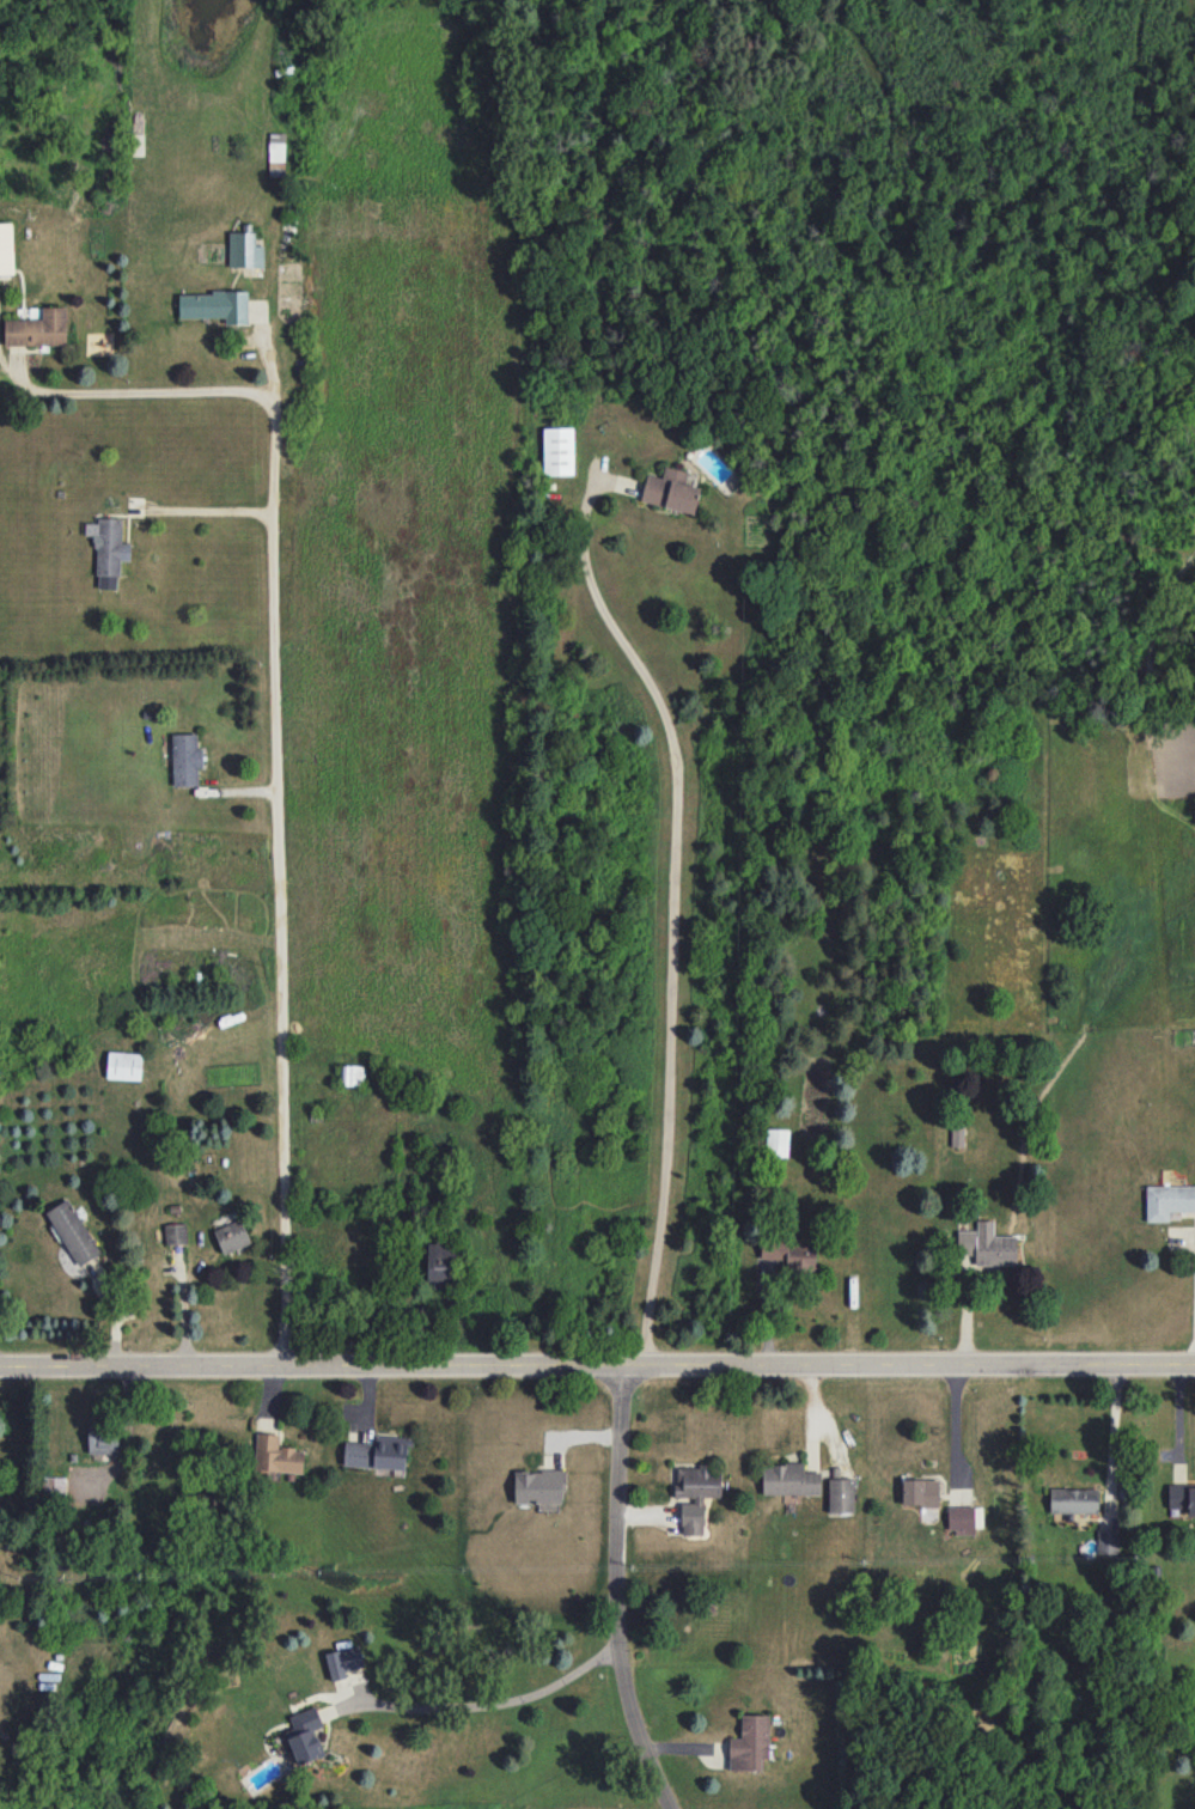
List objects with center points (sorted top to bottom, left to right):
building: (136, 144)
building: (276, 153)
building: (6, 249)
building: (244, 250)
building: (215, 306)
building: (38, 329)
road: (153, 388)
building: (559, 451)
building: (671, 491)
road: (209, 510)
building: (108, 550)
building: (185, 759)
road: (274, 849)
road: (673, 913)
building: (123, 1065)
building: (353, 1074)
road: (944, 1096)
building: (957, 1135)
building: (778, 1141)
building: (1169, 1200)
building: (73, 1232)
building: (176, 1234)
building: (232, 1236)
building: (987, 1244)
building: (789, 1254)
building: (443, 1263)
road: (1194, 1336)
road: (597, 1370)
road: (1114, 1437)
building: (103, 1438)
building: (378, 1452)
building: (276, 1455)
building: (789, 1480)
building: (54, 1486)
building: (539, 1488)
building: (920, 1492)
building: (695, 1494)
building: (841, 1496)
building: (1182, 1498)
building: (1074, 1500)
building: (964, 1518)
building: (1108, 1542)
road: (616, 1594)
building: (343, 1661)
road: (484, 1704)
building: (305, 1735)
building: (750, 1743)

